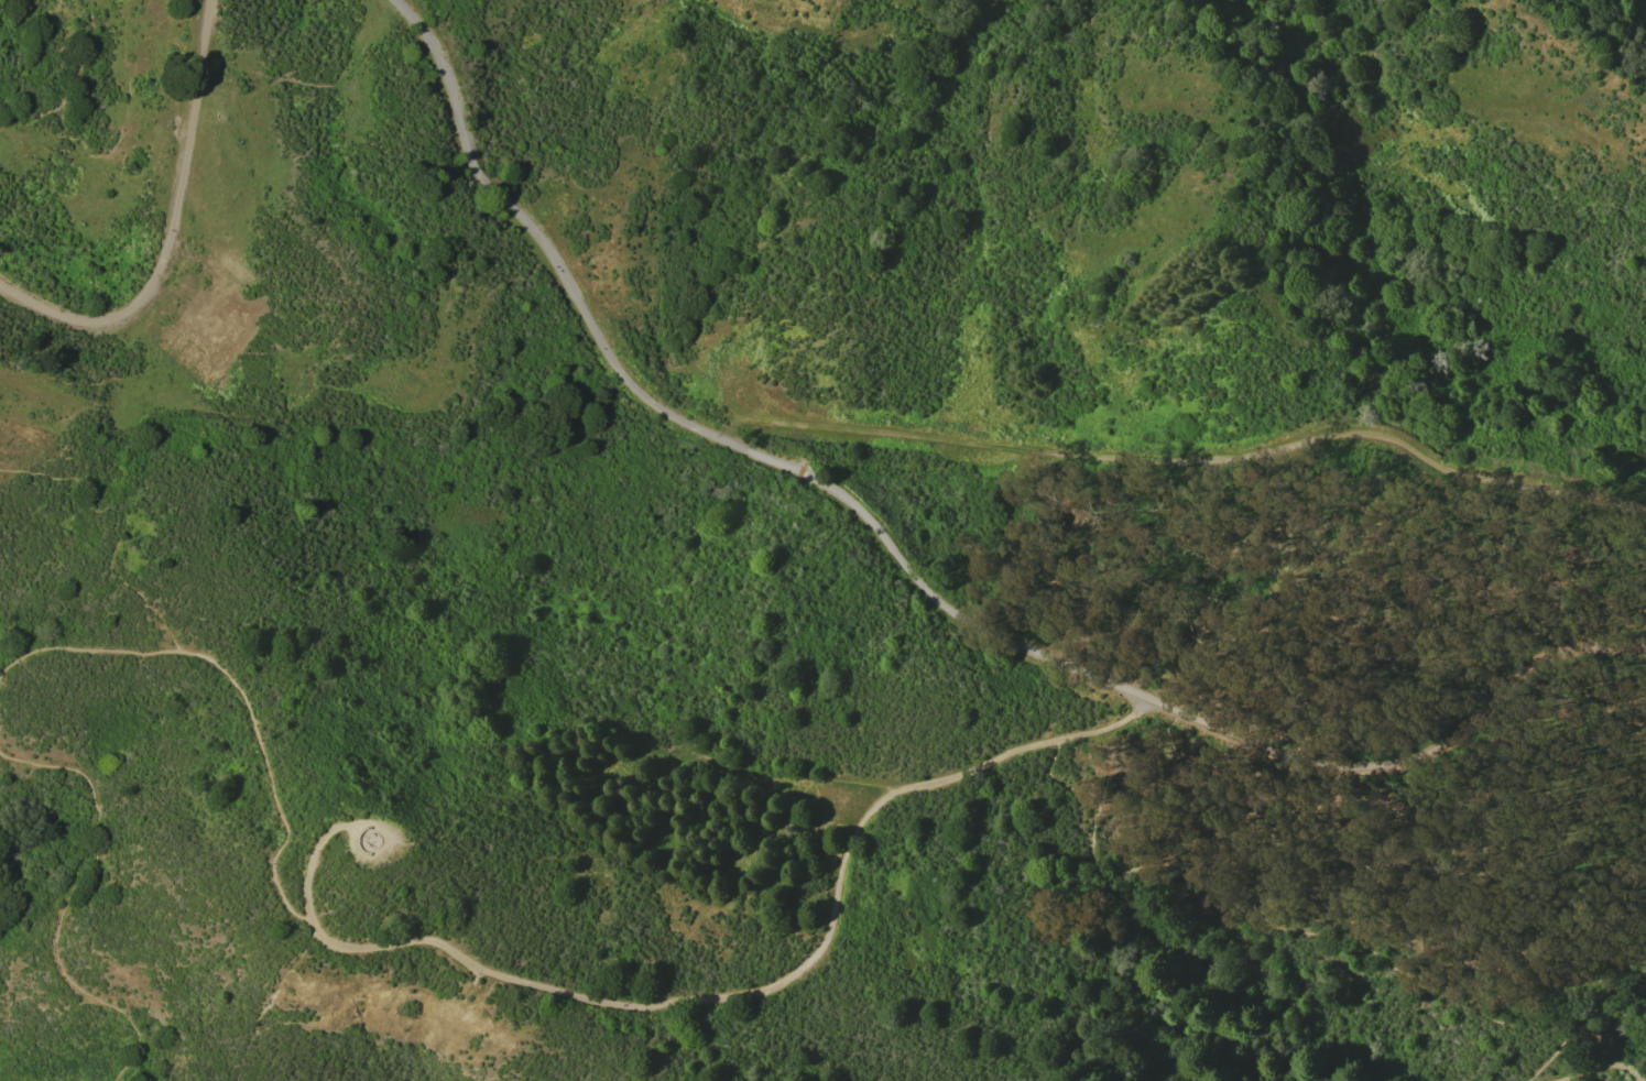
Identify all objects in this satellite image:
road: (166, 228)
road: (115, 527)
road: (917, 579)
road: (724, 769)
road: (349, 829)
road: (70, 899)
road: (1290, 931)
road: (531, 984)
road: (272, 1003)
road: (1607, 1066)

